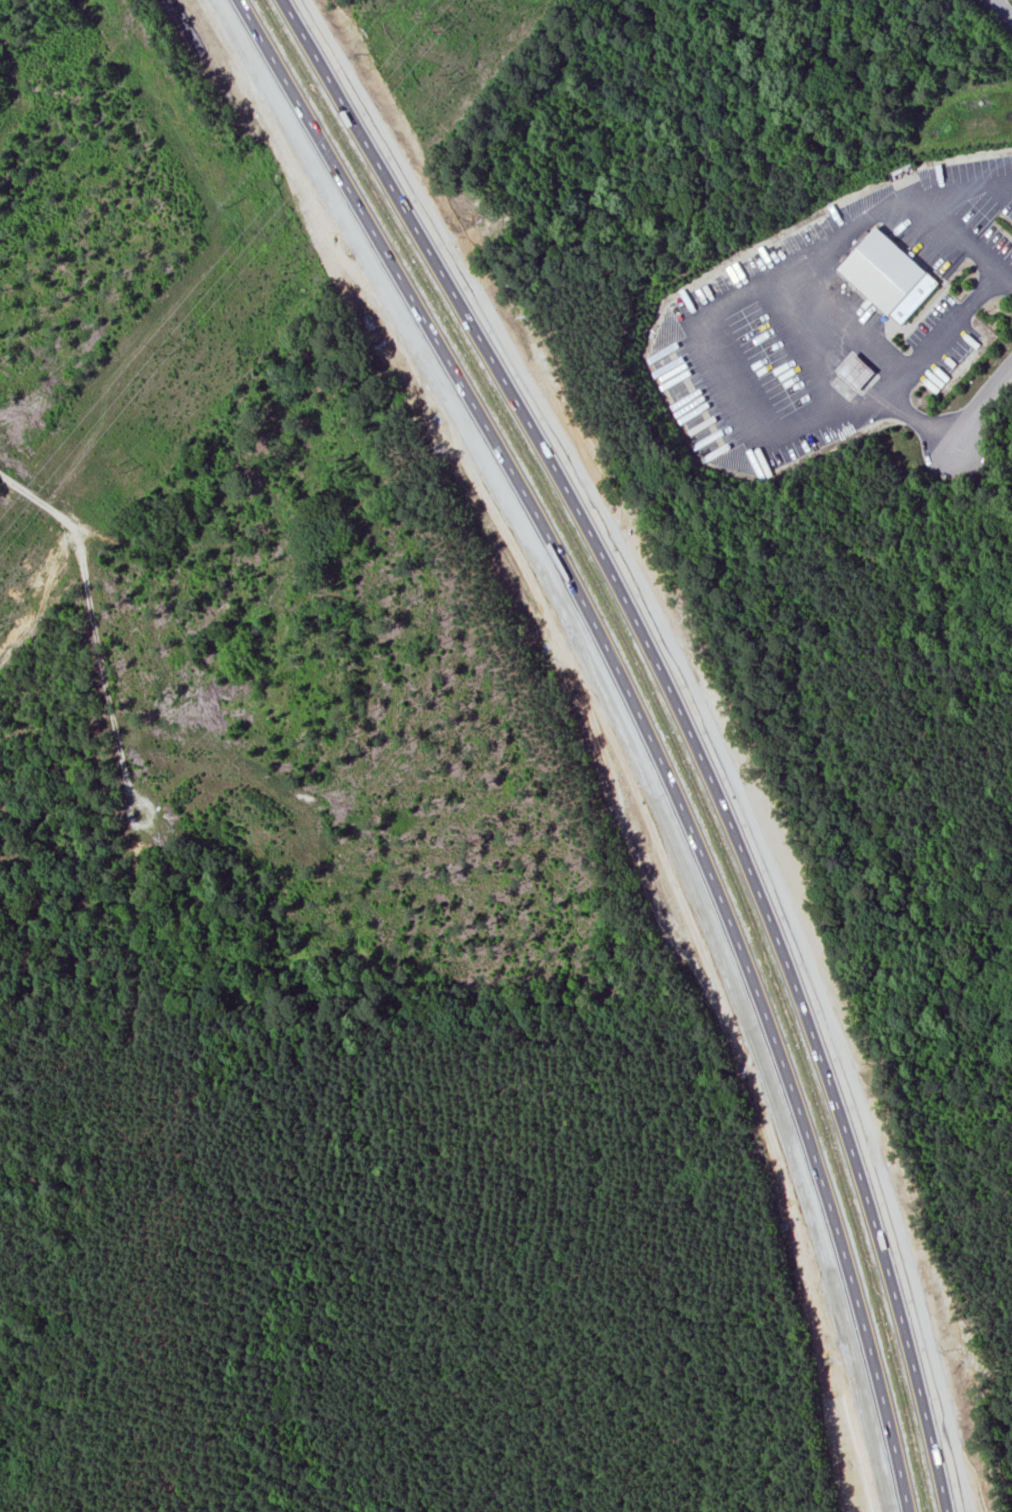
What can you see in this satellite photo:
road: (1002, 9)
power tower: (438, 19)
power tower: (450, 76)
power tower: (230, 207)
road: (961, 236)
building: (892, 278)
road: (703, 320)
road: (947, 329)
power tower: (161, 352)
building: (857, 372)
road: (986, 391)
power tower: (123, 465)
road: (641, 725)
road: (688, 725)

